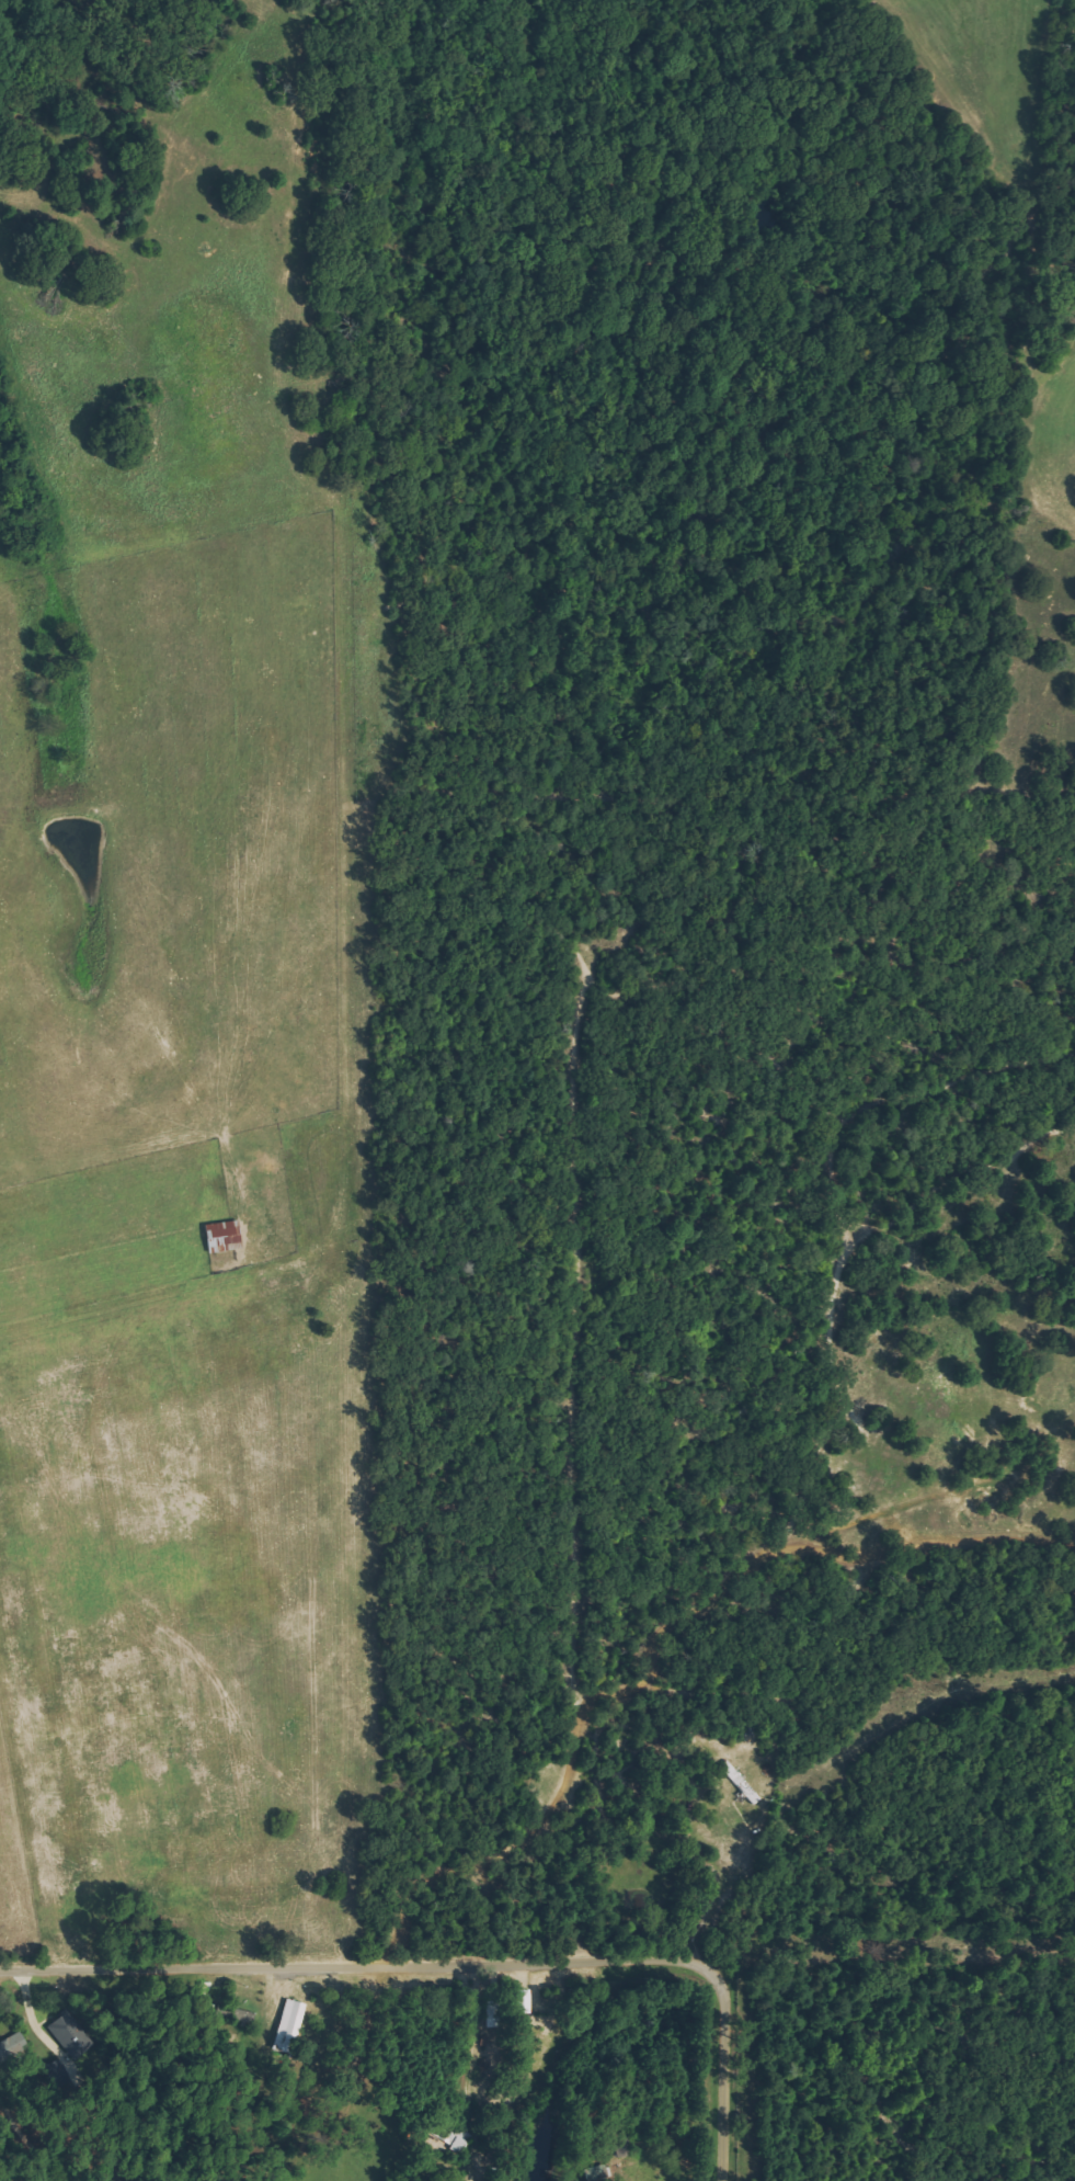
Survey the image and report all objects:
building: (218, 1237)
road: (464, 1964)
building: (517, 2001)
building: (287, 2022)
building: (59, 2040)

